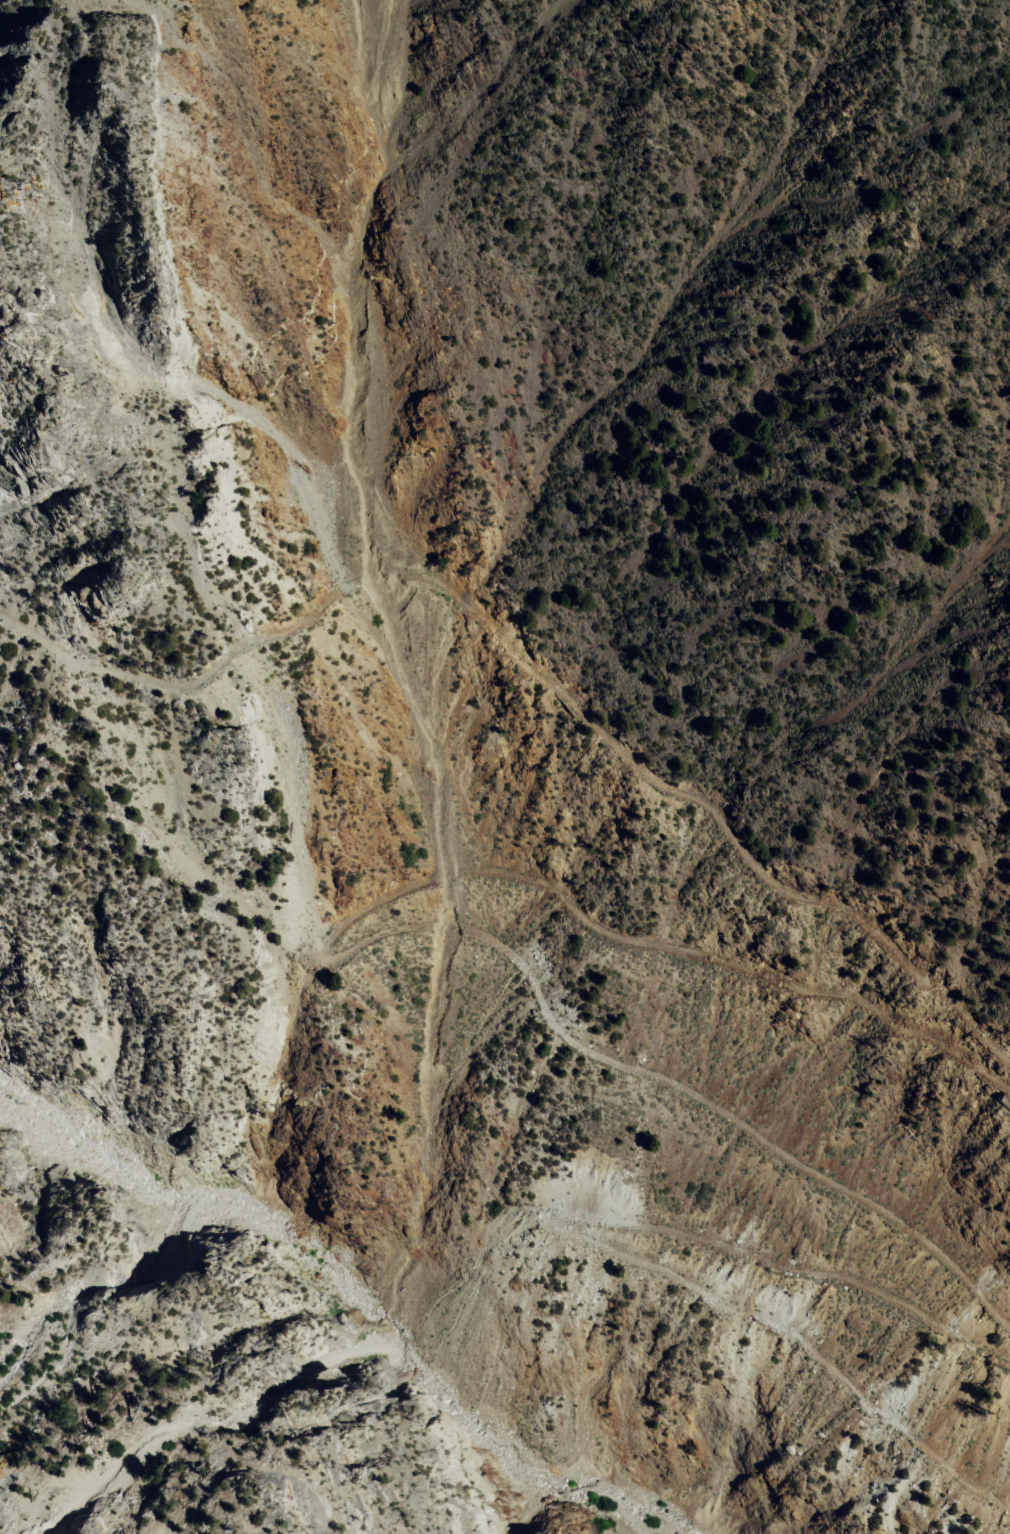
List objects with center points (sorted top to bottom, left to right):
road: (536, 671)
road: (356, 949)
road: (580, 1239)

